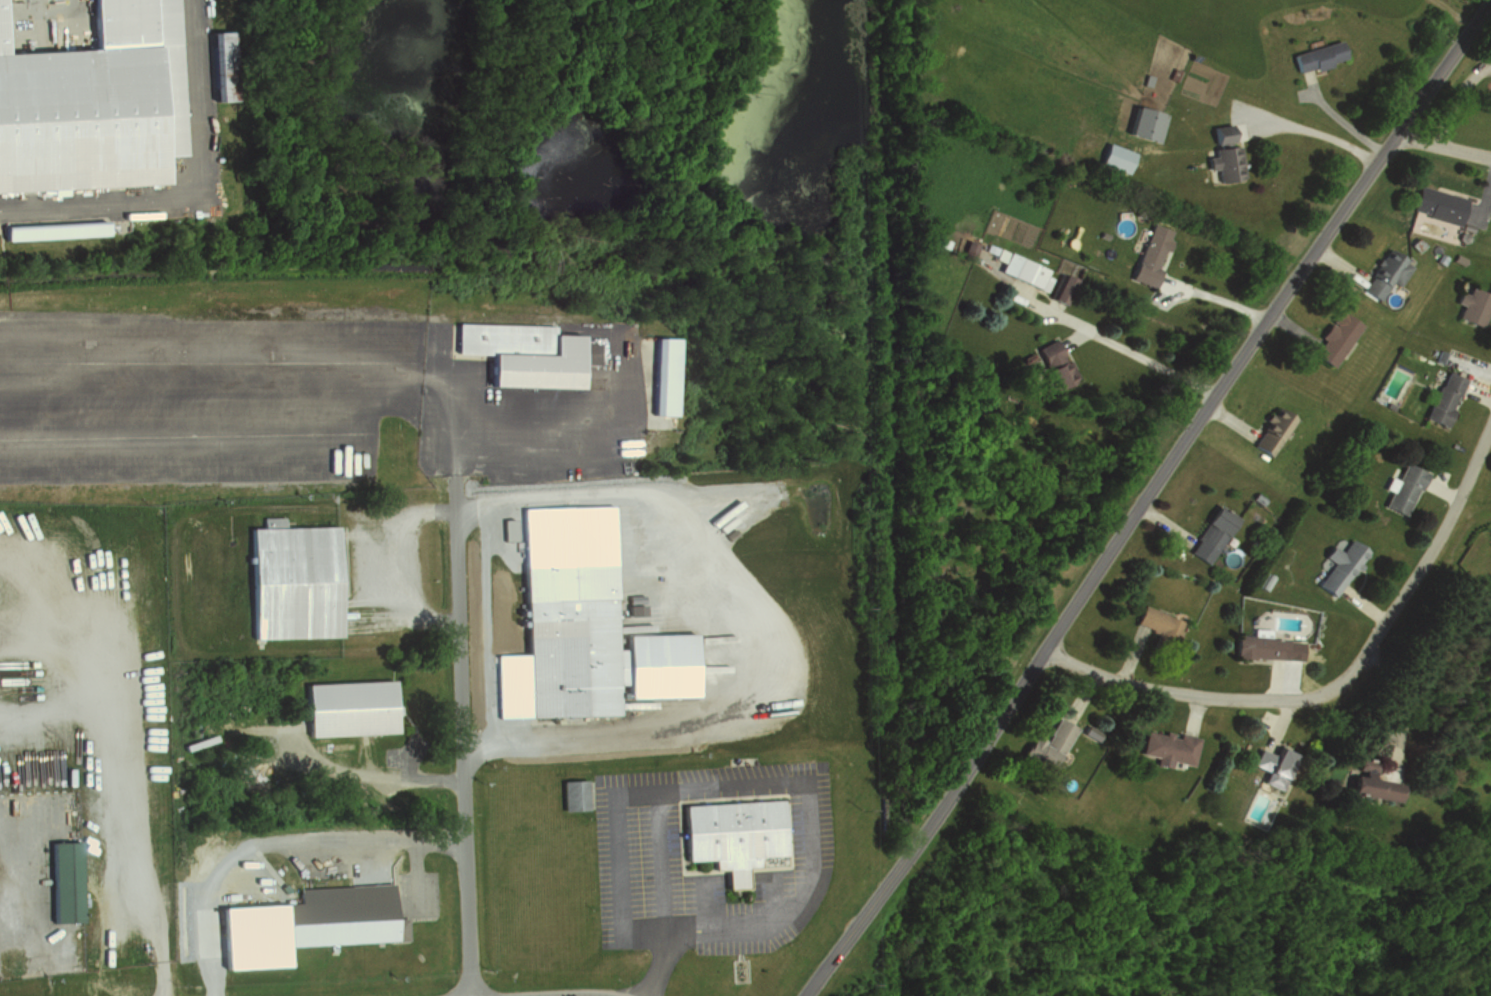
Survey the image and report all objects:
building: (1317, 56)
building: (217, 66)
building: (1489, 96)
building: (94, 103)
road: (1338, 114)
road: (1306, 132)
building: (1218, 134)
road: (1442, 144)
building: (1115, 158)
building: (1224, 163)
road: (186, 186)
building: (1435, 205)
building: (51, 230)
building: (1152, 256)
building: (1022, 272)
building: (1383, 274)
building: (1060, 291)
road: (1216, 293)
building: (1472, 305)
building: (1332, 340)
road: (1138, 350)
building: (523, 352)
building: (1051, 367)
building: (661, 375)
road: (283, 395)
building: (1441, 399)
building: (1268, 432)
building: (1400, 489)
road: (1145, 495)
building: (1208, 535)
road: (371, 562)
building: (1338, 566)
building: (296, 581)
road: (1411, 585)
building: (576, 620)
building: (1155, 624)
road: (776, 628)
building: (1257, 647)
road: (1423, 672)
road: (1165, 690)
building: (351, 707)
building: (1044, 746)
building: (1166, 746)
road: (466, 751)
building: (1268, 767)
road: (402, 777)
road: (743, 780)
building: (1366, 782)
building: (572, 792)
building: (735, 828)
road: (277, 844)
parking lot: (710, 853)
road: (5, 856)
road: (665, 863)
road: (10, 864)
building: (67, 881)
building: (303, 924)
road: (660, 967)
road: (581, 993)

